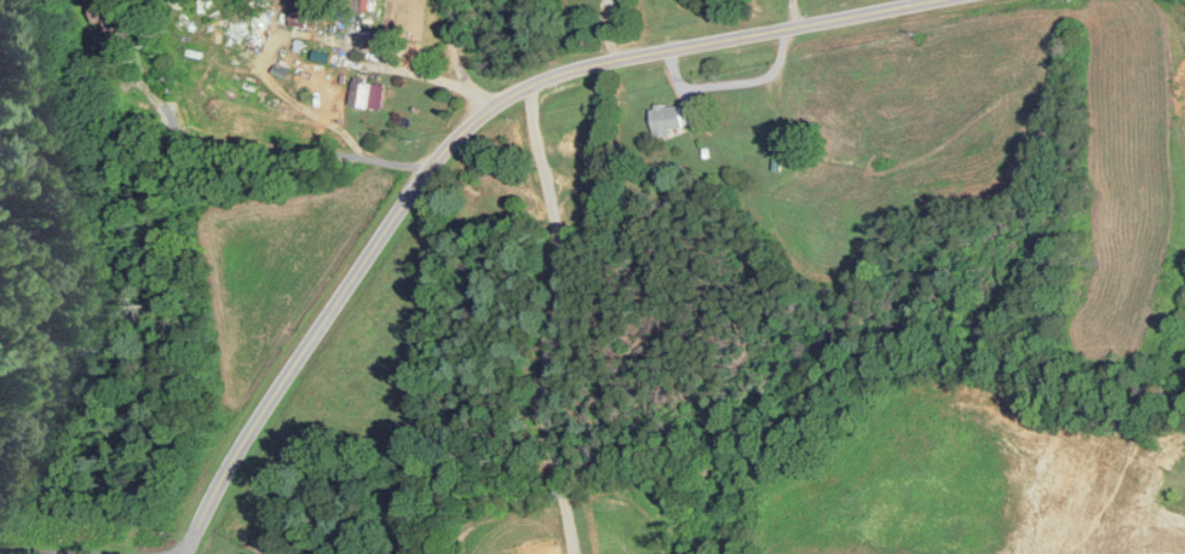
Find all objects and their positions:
building: (105, 13)
road: (792, 13)
road: (455, 60)
building: (366, 97)
building: (672, 120)
road: (454, 139)
building: (579, 146)
road: (548, 319)
road: (41, 552)

